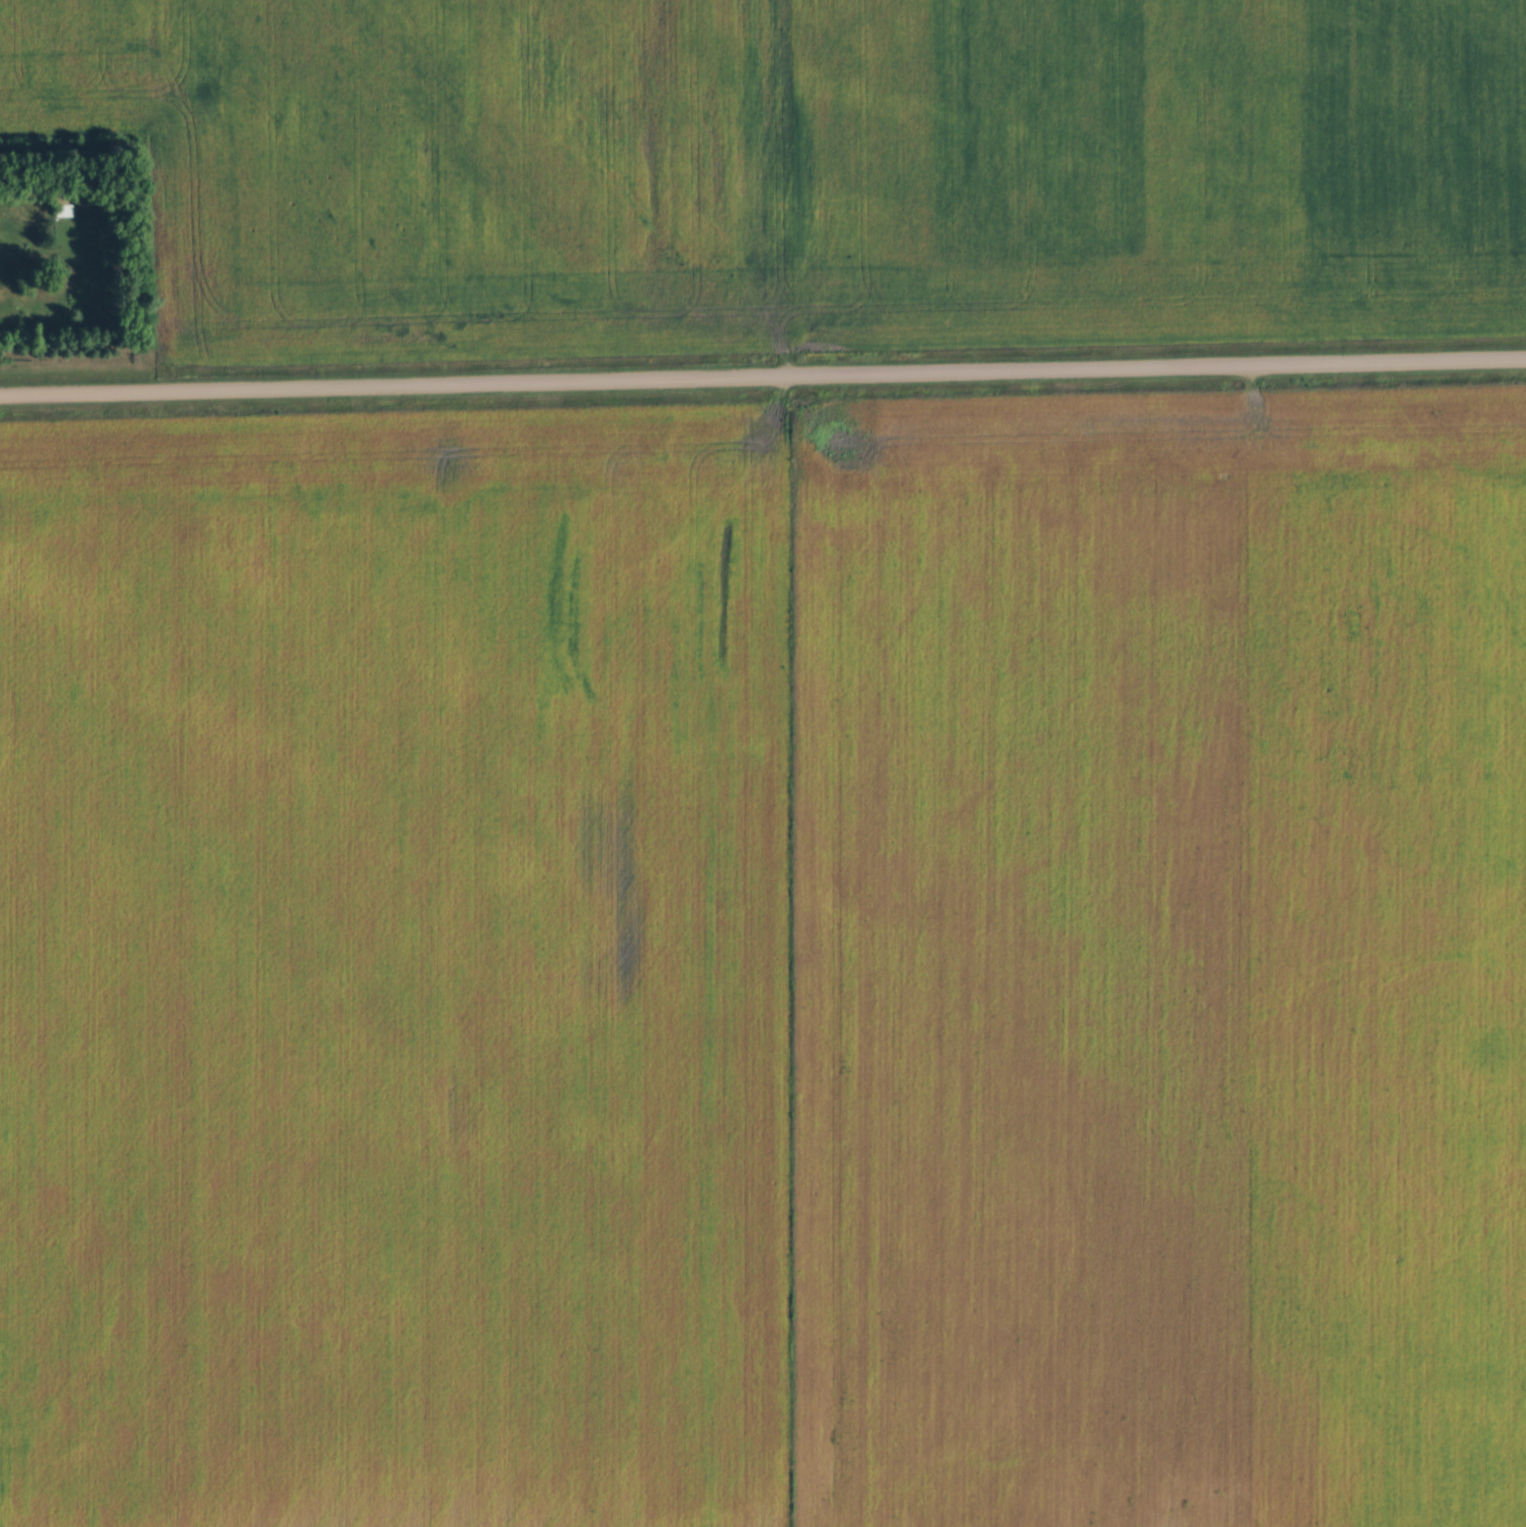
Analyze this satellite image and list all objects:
building: (64, 208)
building: (3, 258)
road: (763, 379)
crop: (1160, 959)

